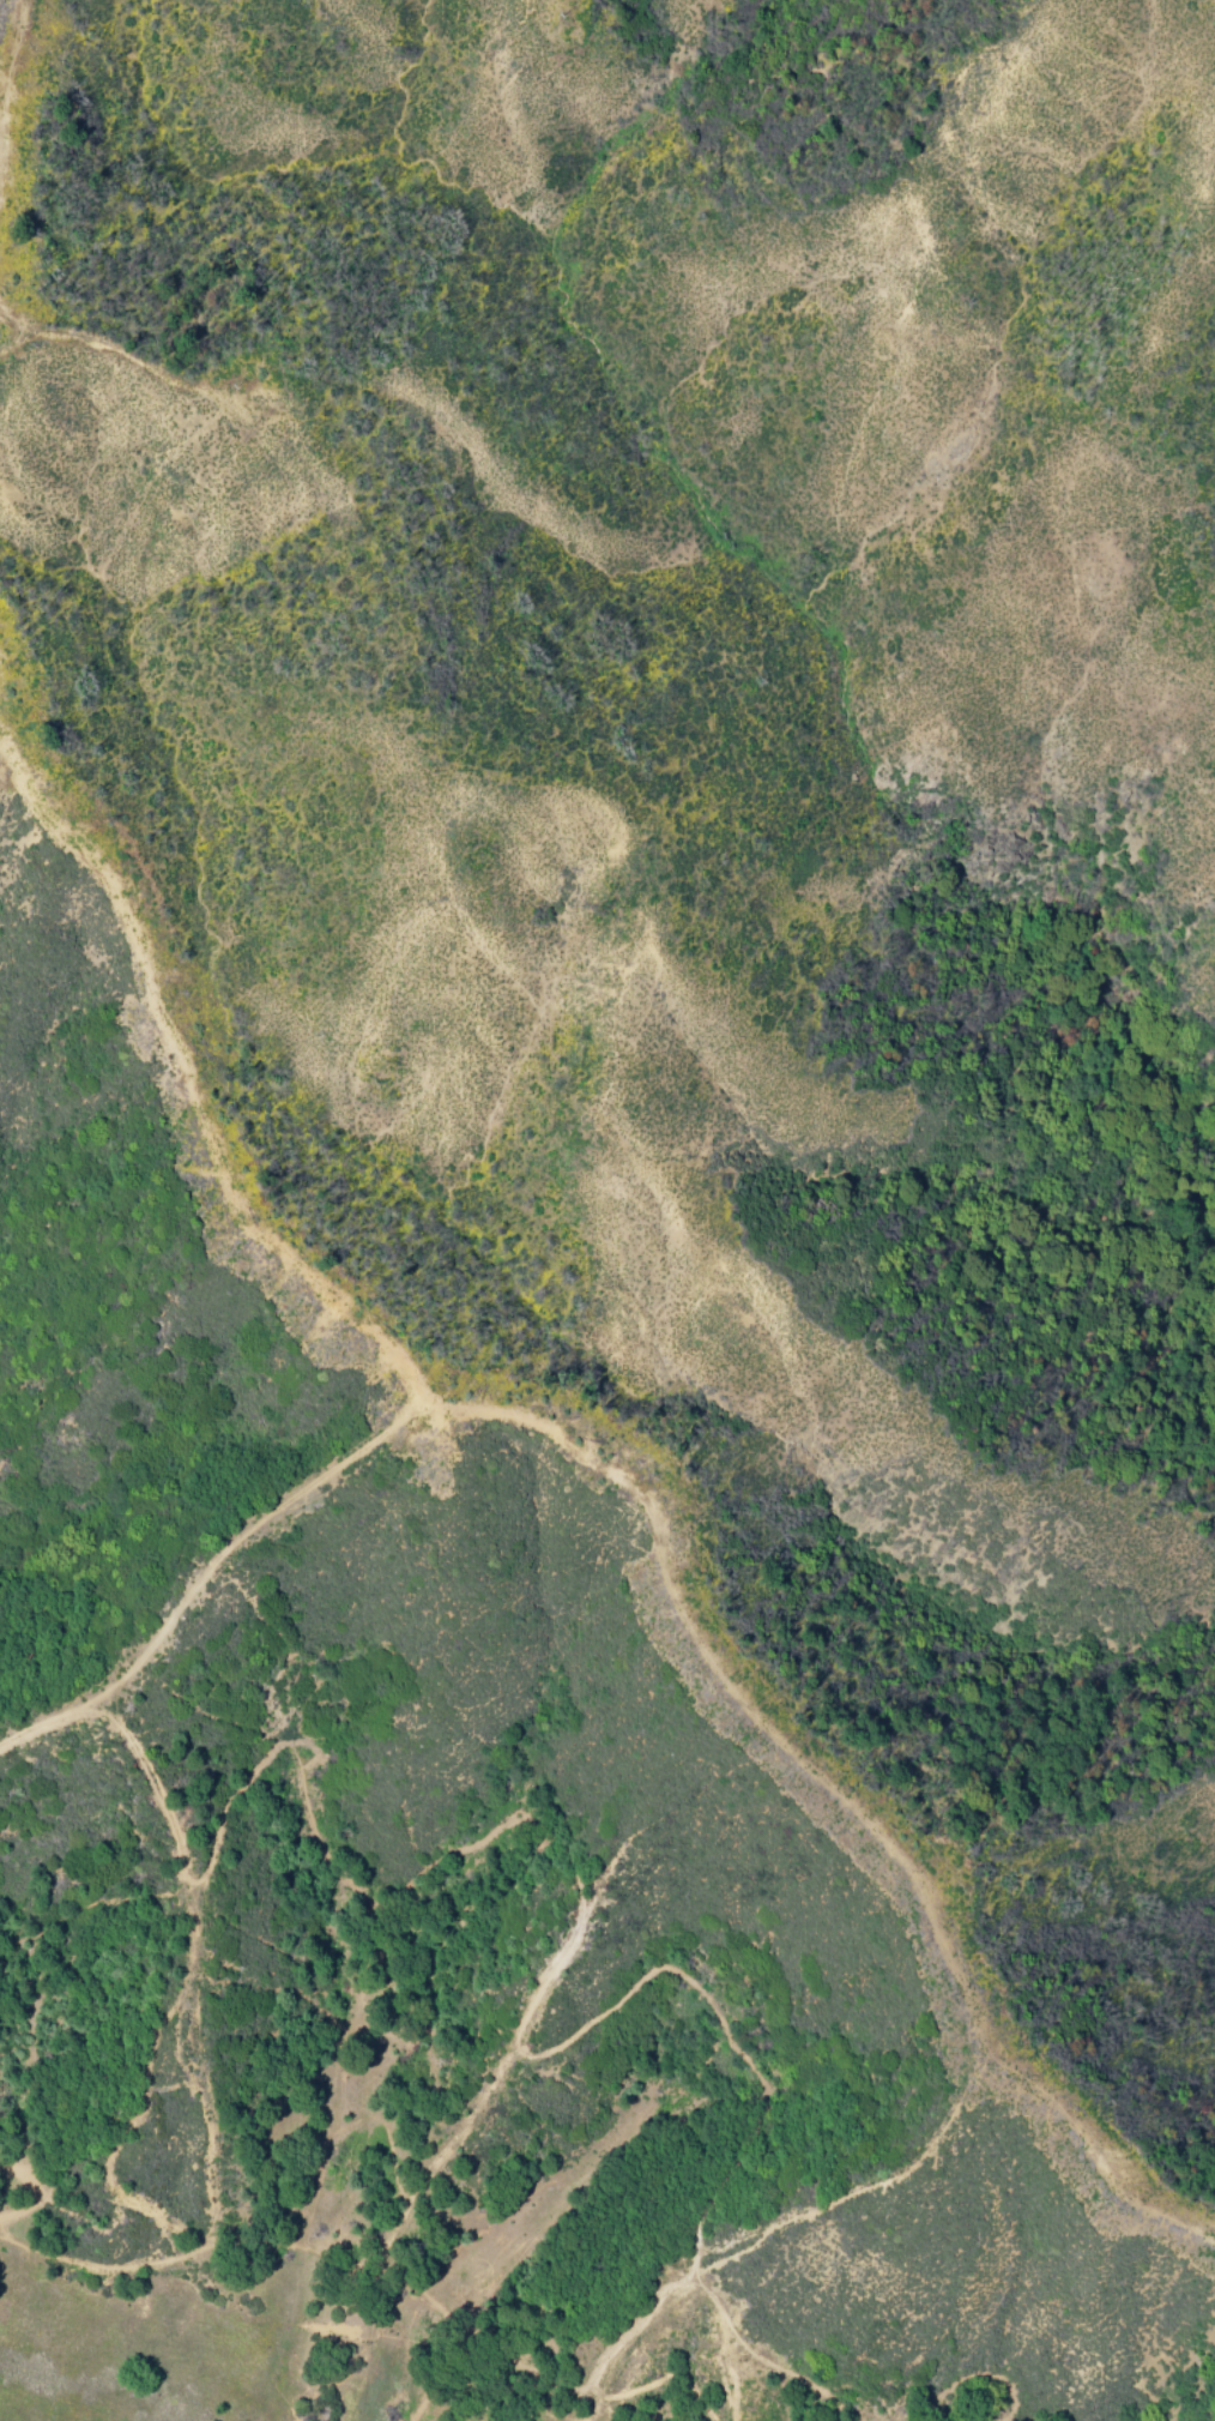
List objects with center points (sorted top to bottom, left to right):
road: (13, 89)
road: (25, 317)
road: (132, 357)
road: (1, 752)
road: (351, 1288)

